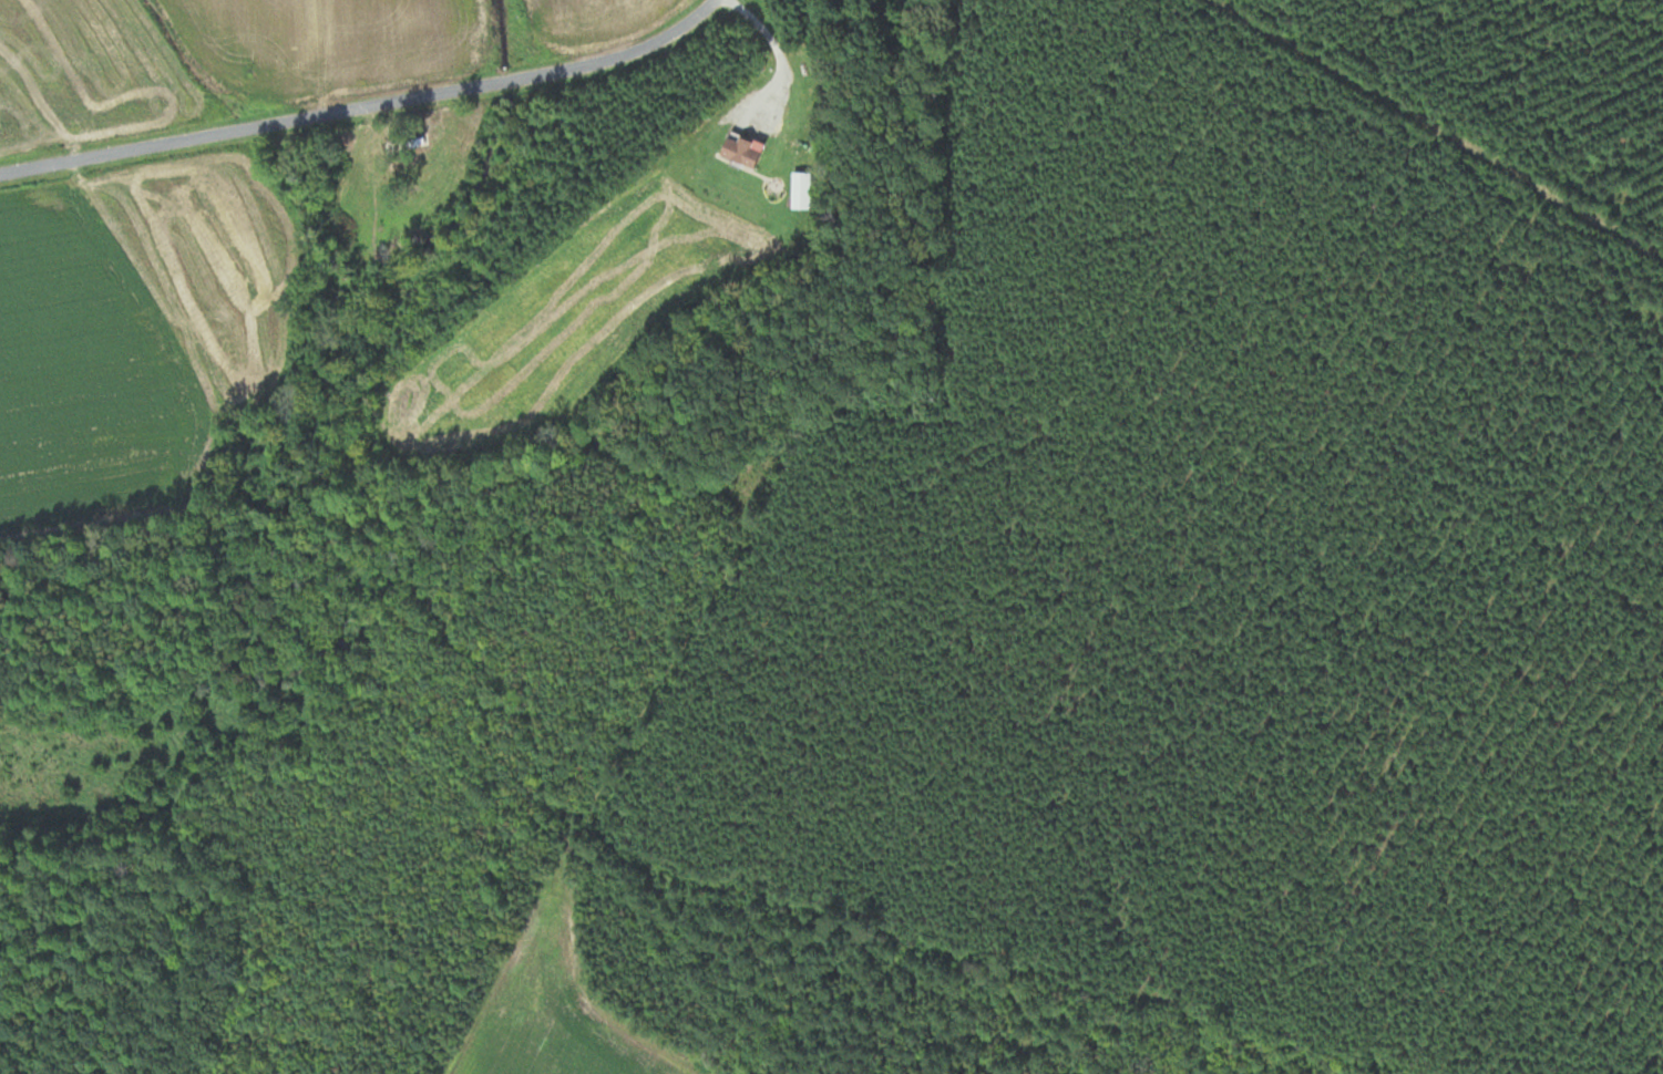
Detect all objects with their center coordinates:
road: (363, 104)
road: (1435, 131)

